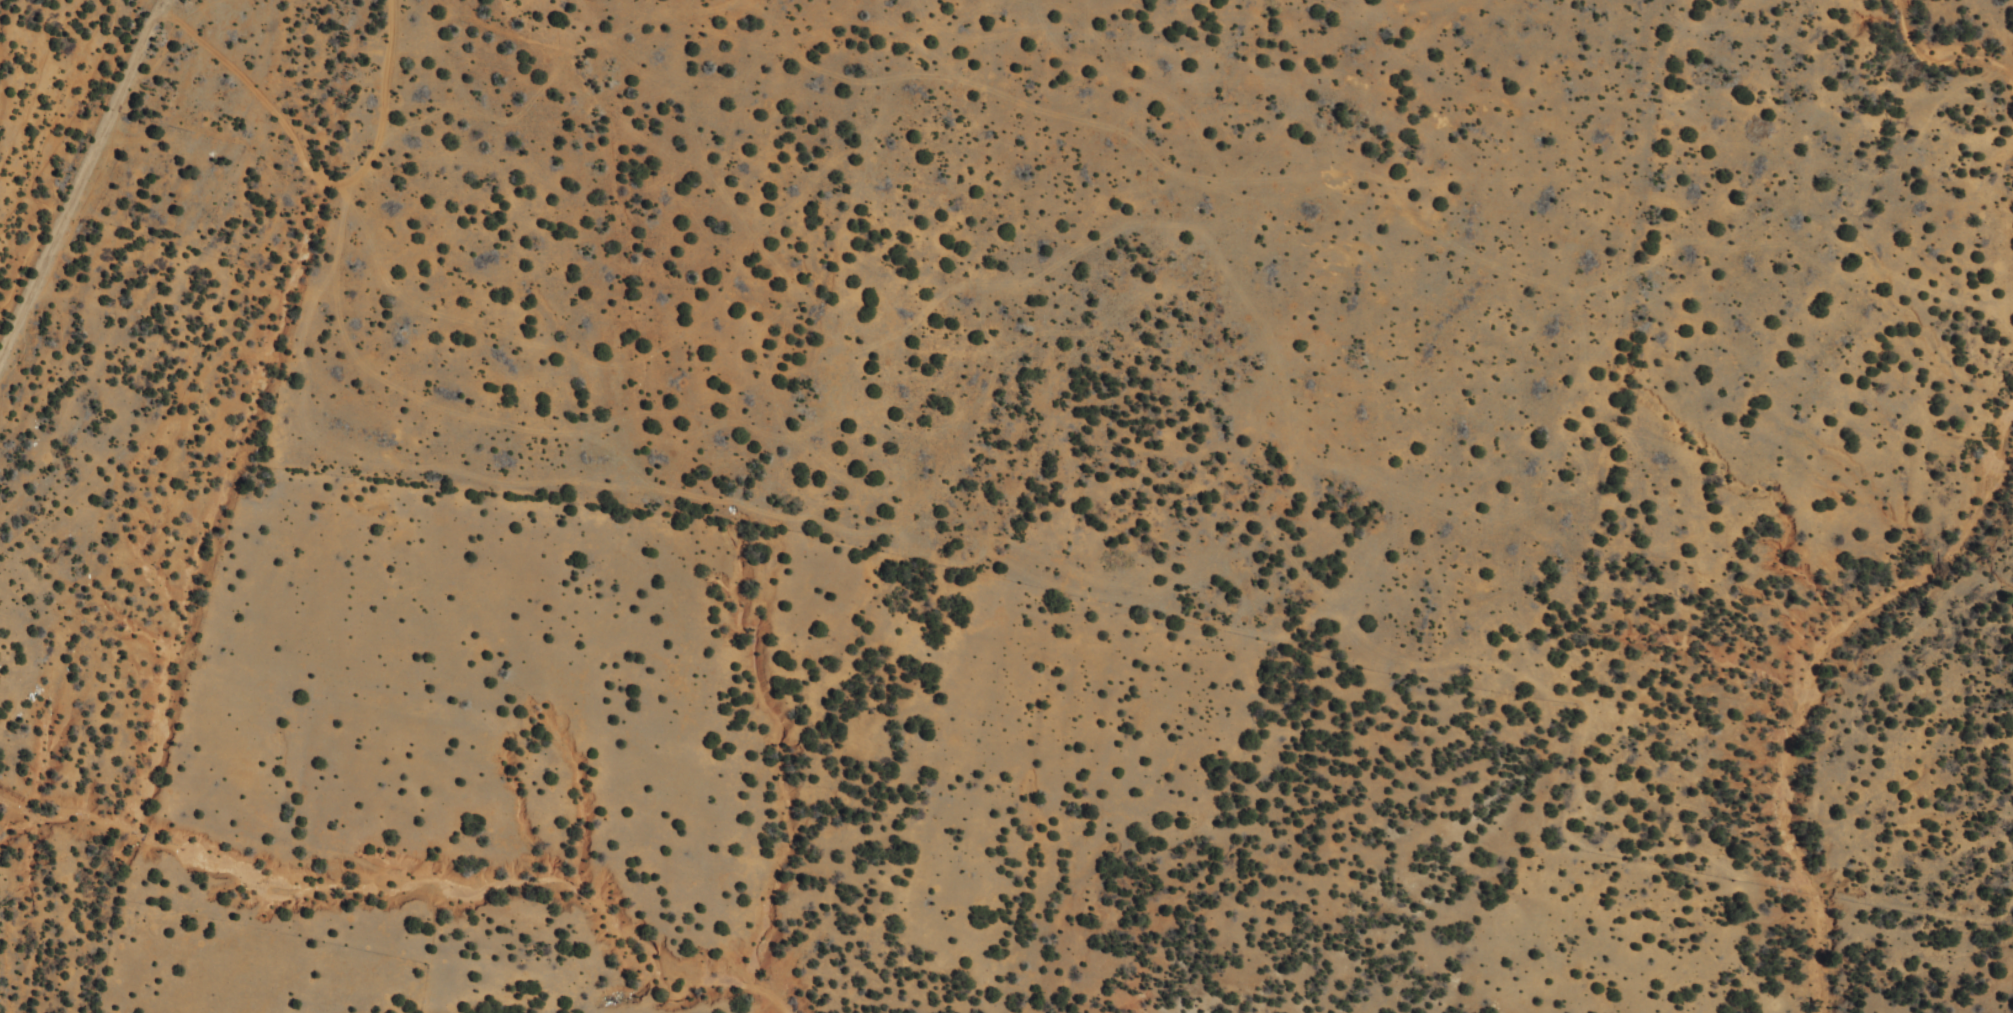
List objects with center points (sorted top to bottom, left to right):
road: (88, 286)

